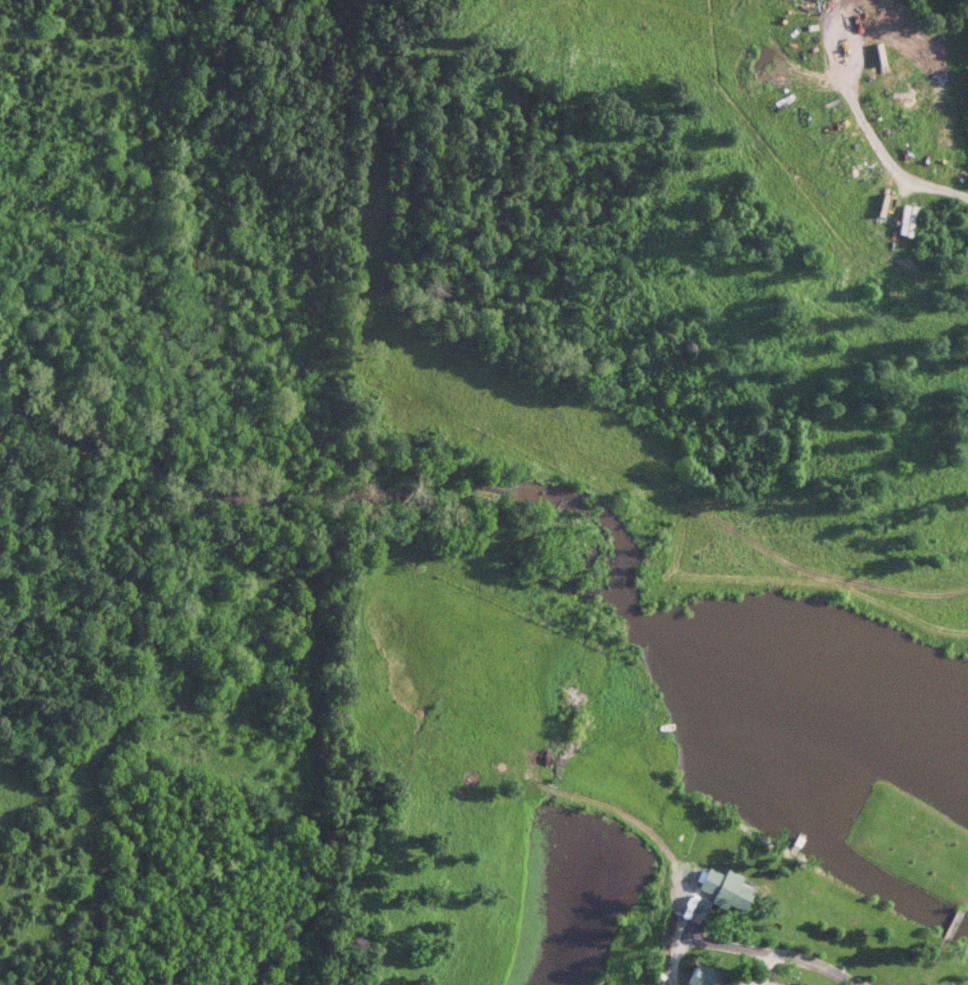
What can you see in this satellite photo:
building: (725, 887)
building: (707, 977)

